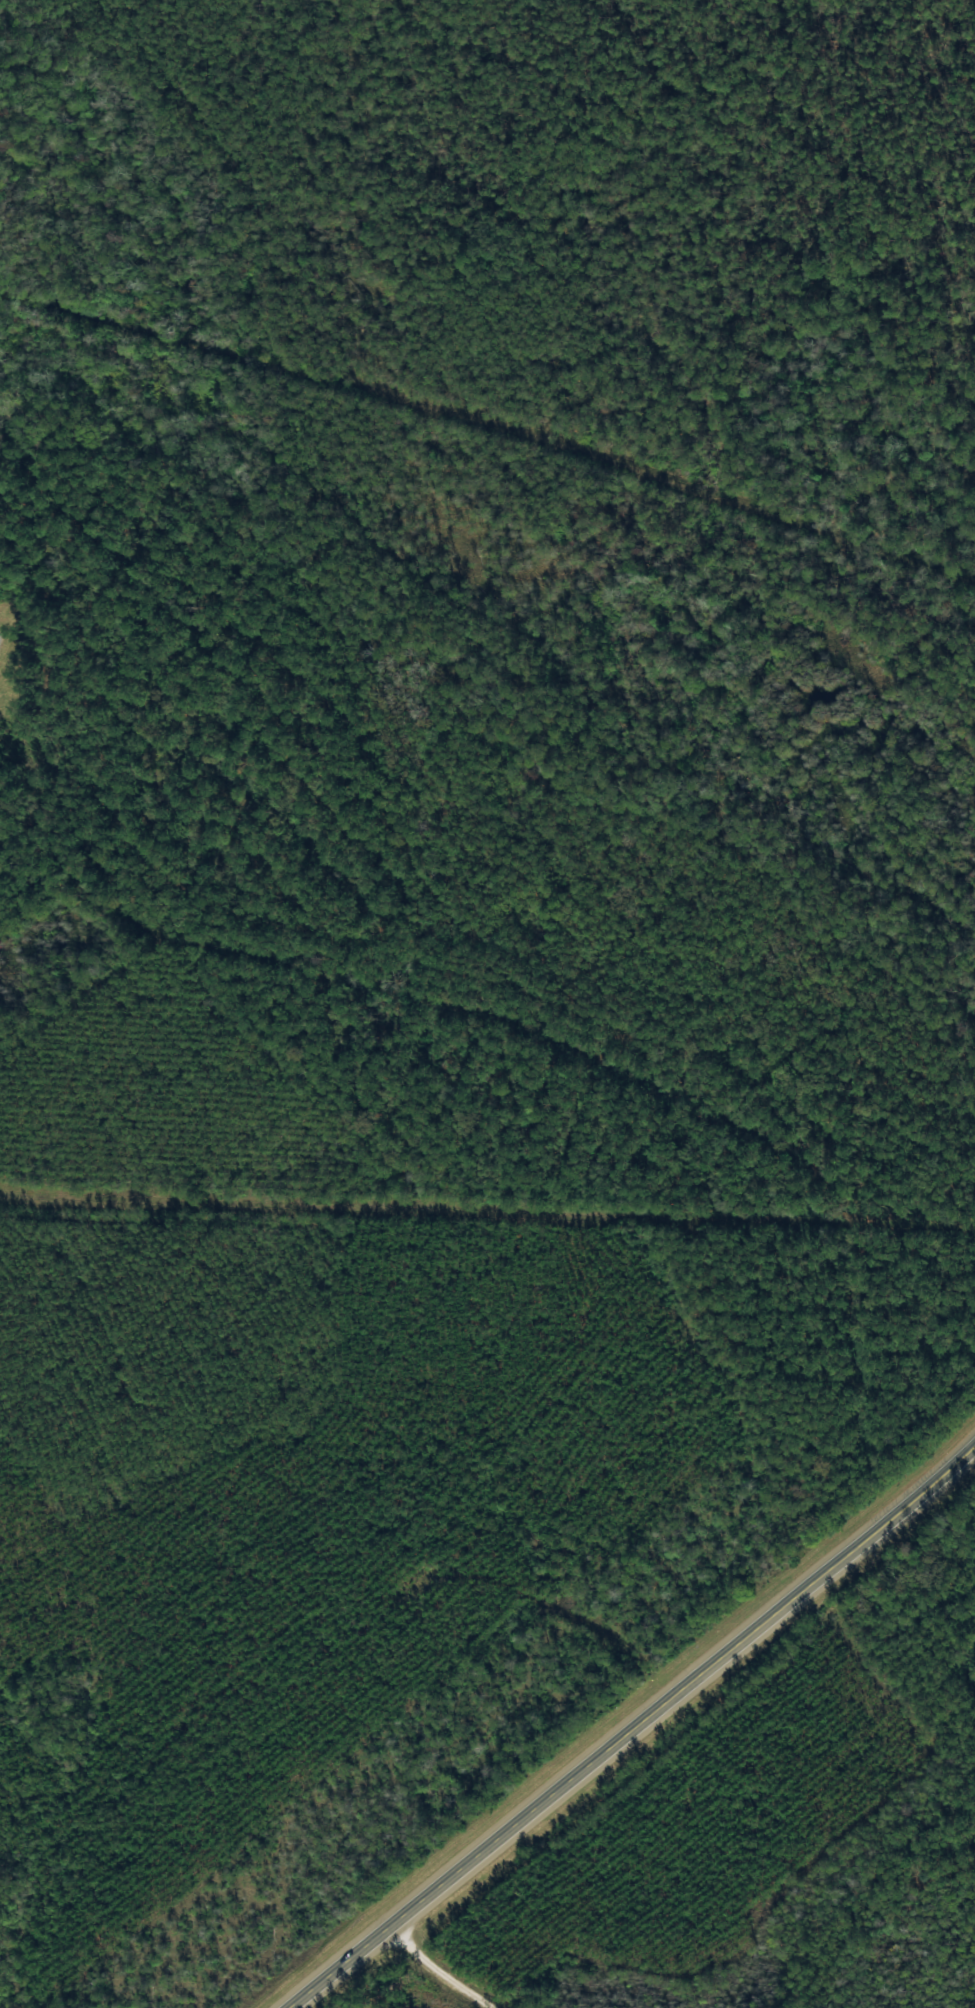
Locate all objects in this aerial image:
road: (647, 1730)

